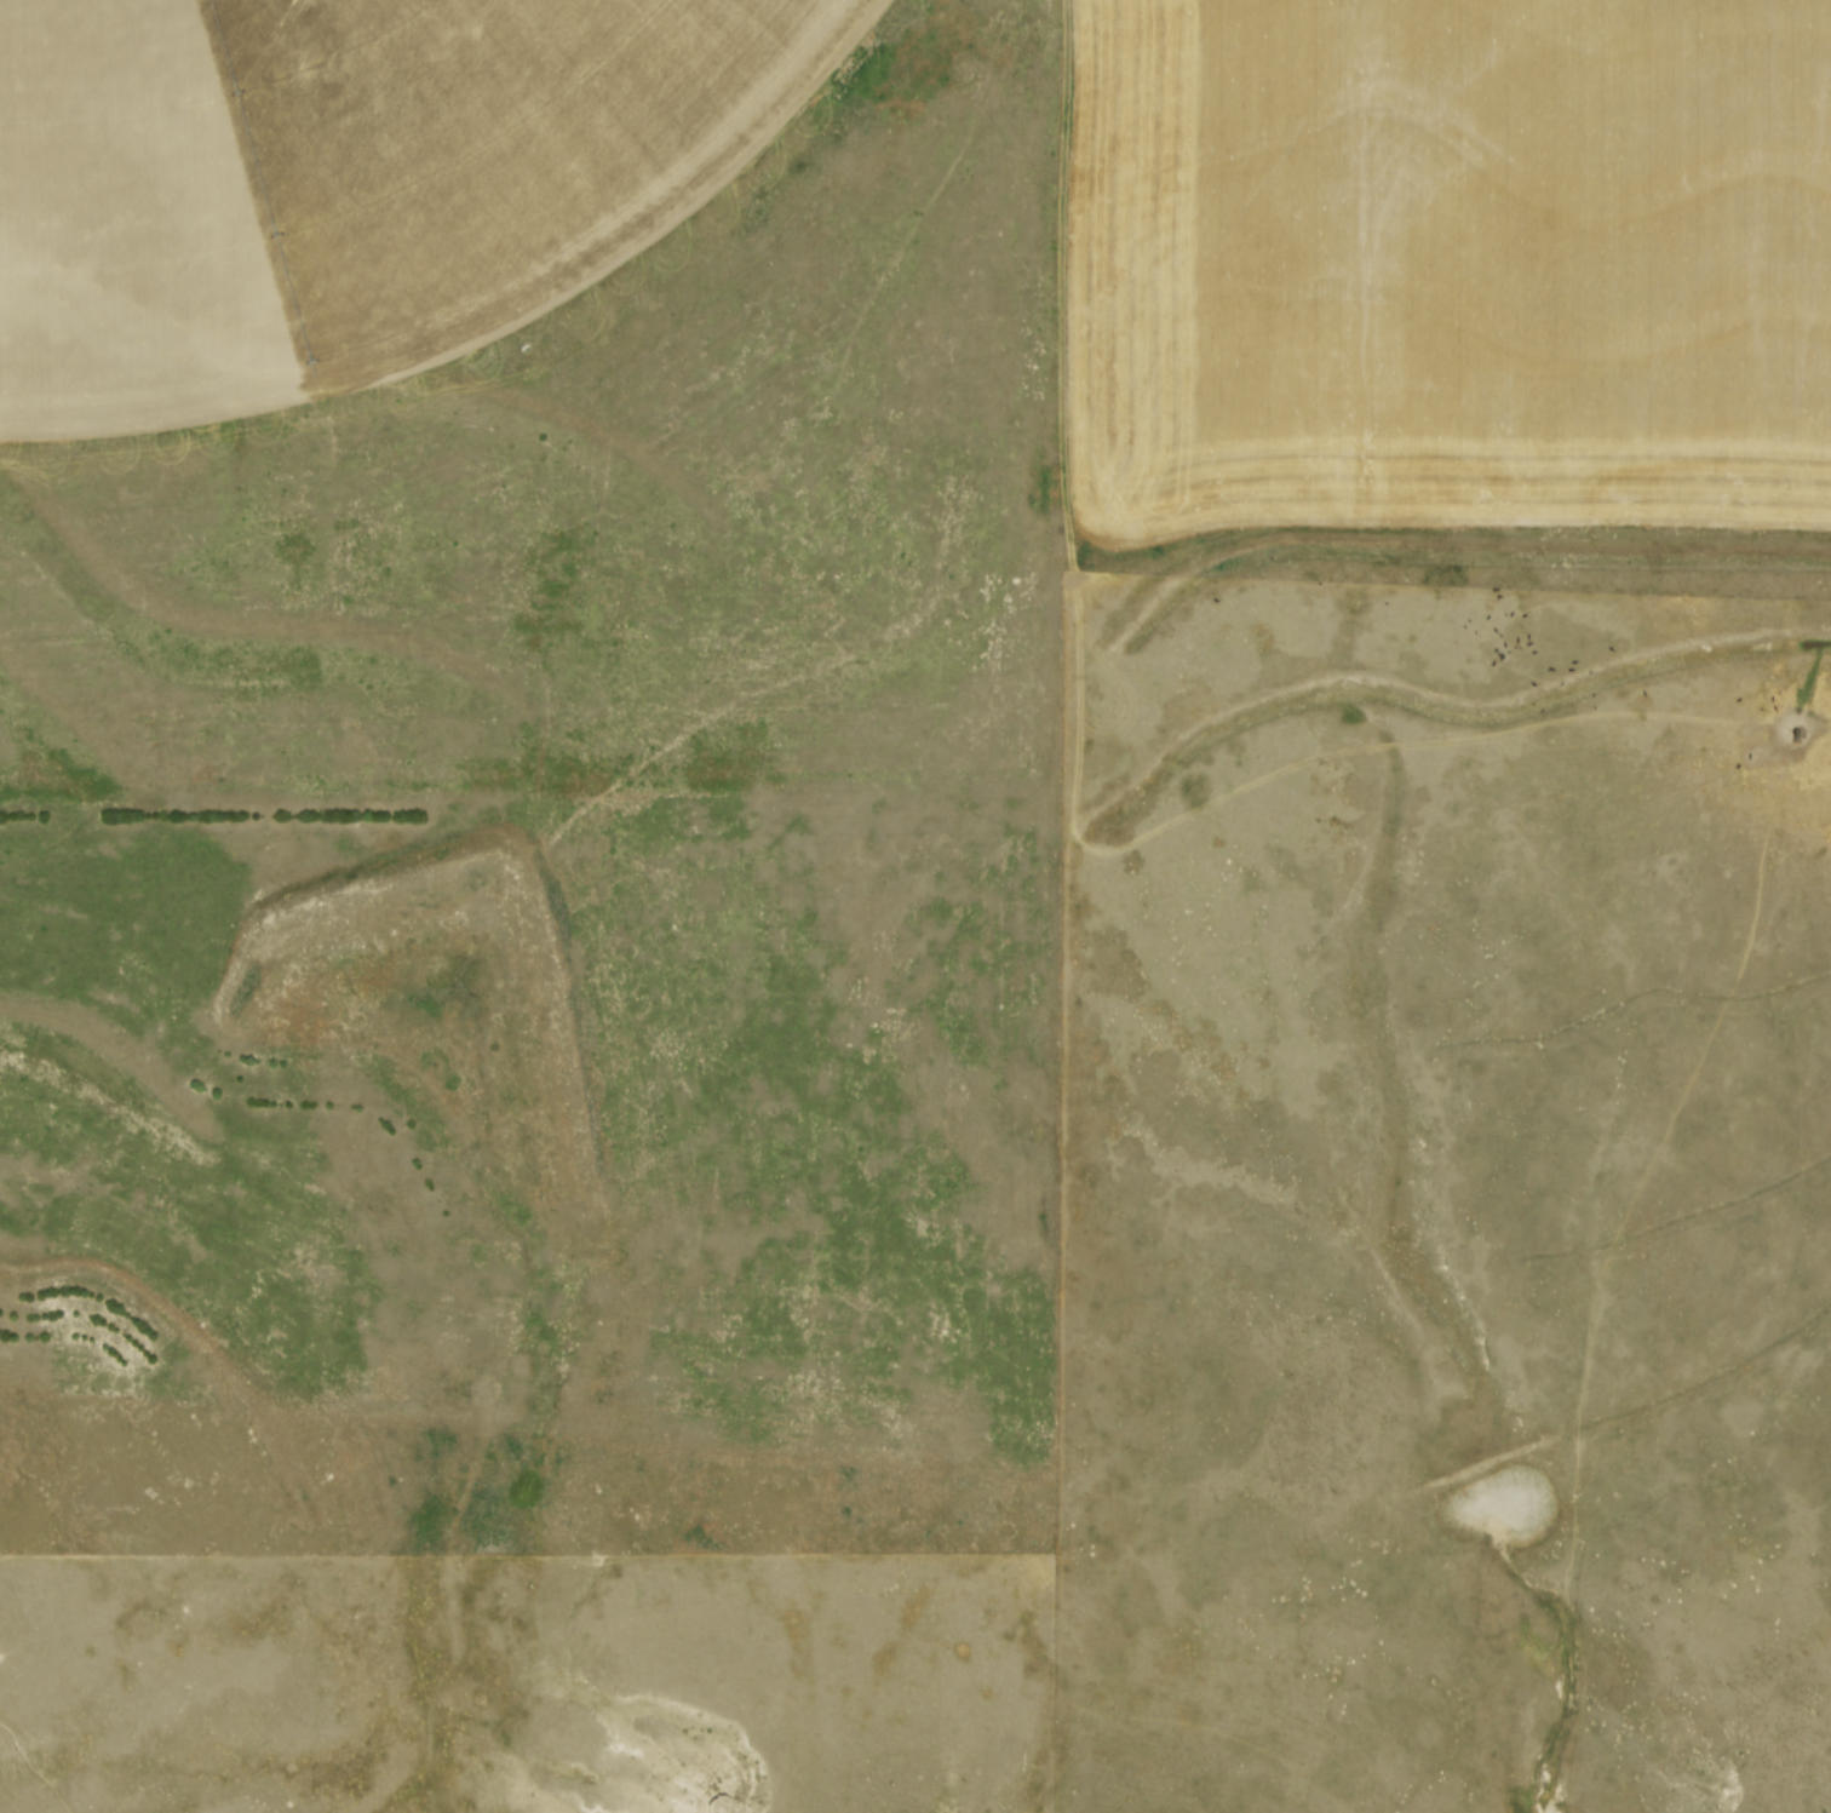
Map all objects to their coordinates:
crop: (345, 178)
building: (745, 222)
crop: (1451, 265)

